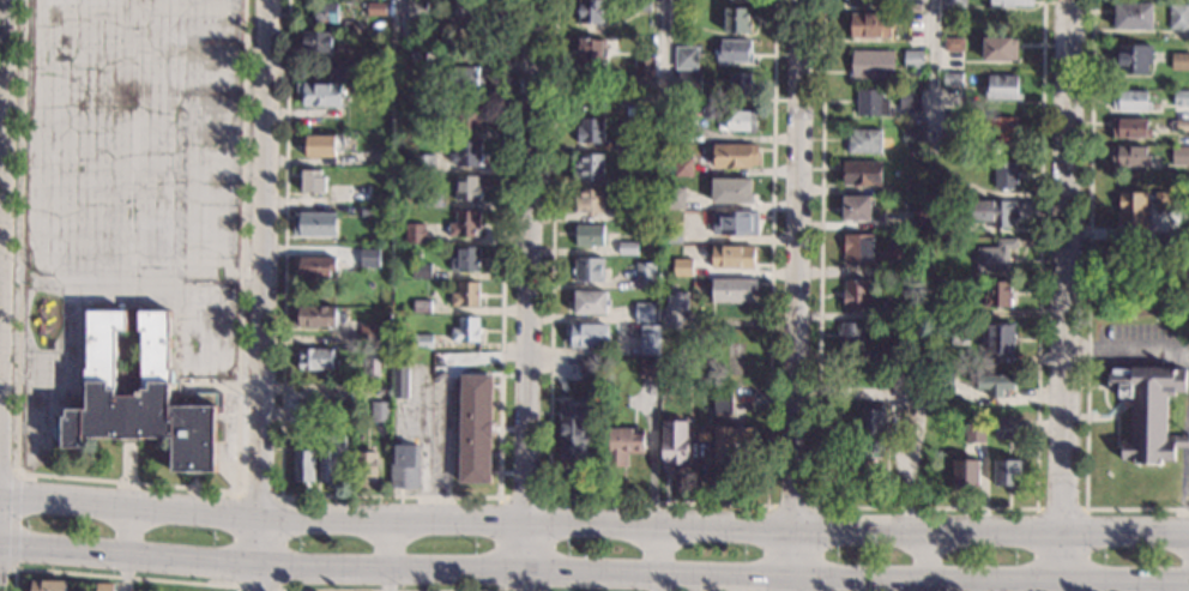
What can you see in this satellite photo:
building: (858, 2)
building: (1013, 2)
building: (954, 4)
building: (642, 5)
building: (375, 7)
building: (417, 10)
building: (591, 11)
building: (326, 12)
building: (471, 12)
road: (400, 13)
building: (686, 13)
building: (1133, 16)
building: (1179, 17)
building: (737, 19)
building: (871, 25)
building: (315, 40)
building: (953, 43)
road: (665, 46)
road: (934, 46)
building: (1000, 48)
building: (592, 50)
building: (735, 50)
building: (416, 54)
building: (686, 58)
building: (1133, 58)
building: (913, 59)
building: (1179, 61)
building: (873, 65)
building: (645, 66)
road: (1, 67)
building: (340, 70)
building: (466, 77)
building: (952, 78)
building: (689, 82)
building: (740, 84)
building: (1002, 88)
building: (320, 94)
building: (591, 95)
building: (1181, 97)
building: (910, 98)
building: (628, 99)
building: (1130, 99)
building: (871, 103)
building: (467, 117)
building: (742, 120)
building: (952, 120)
building: (1179, 125)
building: (428, 128)
building: (1130, 128)
building: (590, 129)
building: (1001, 129)
building: (675, 131)
building: (912, 134)
building: (864, 141)
building: (321, 144)
building: (626, 144)
building: (467, 153)
building: (735, 155)
building: (1130, 155)
building: (1179, 155)
building: (380, 156)
building: (424, 163)
building: (590, 165)
building: (683, 165)
building: (861, 171)
building: (1006, 174)
building: (626, 179)
building: (312, 180)
building: (400, 182)
building: (917, 186)
building: (467, 187)
building: (948, 187)
building: (731, 191)
building: (356, 193)
building: (674, 198)
building: (429, 199)
building: (590, 200)
building: (1163, 201)
building: (856, 207)
building: (367, 209)
building: (1133, 210)
building: (991, 212)
building: (638, 213)
building: (921, 219)
building: (736, 222)
building: (314, 223)
building: (465, 223)
building: (415, 233)
building: (674, 234)
building: (590, 235)
road: (10, 243)
building: (628, 247)
building: (648, 248)
building: (867, 251)
building: (732, 255)
building: (996, 255)
building: (369, 257)
building: (415, 258)
building: (466, 259)
building: (315, 265)
building: (683, 266)
building: (589, 269)
building: (421, 270)
building: (645, 275)
road: (10, 282)
building: (734, 289)
building: (998, 293)
building: (466, 294)
building: (856, 294)
road: (264, 295)
road: (526, 295)
road: (796, 295)
road: (1064, 295)
building: (591, 302)
building: (422, 306)
road: (1090, 306)
building: (675, 309)
building: (941, 310)
building: (647, 312)
building: (900, 312)
building: (314, 315)
building: (466, 328)
building: (369, 333)
building: (587, 334)
building: (851, 334)
building: (998, 337)
building: (650, 339)
building: (423, 340)
road: (1127, 350)
building: (891, 352)
building: (315, 358)
building: (372, 362)
building: (590, 366)
building: (648, 368)
building: (899, 374)
building: (400, 380)
building: (943, 384)
building: (997, 385)
building: (141, 392)
building: (722, 400)
road: (447, 404)
building: (379, 410)
building: (1148, 411)
building: (298, 412)
building: (345, 412)
building: (476, 429)
building: (574, 429)
building: (875, 429)
building: (1006, 429)
building: (974, 434)
building: (729, 441)
building: (624, 444)
building: (675, 444)
building: (330, 457)
building: (303, 465)
building: (406, 465)
building: (366, 468)
road: (8, 470)
building: (1008, 472)
building: (966, 475)
road: (138, 483)
road: (391, 496)
road: (524, 500)
road: (662, 502)
road: (792, 506)
road: (1183, 507)
road: (929, 508)
road: (1062, 509)
road: (16, 520)
road: (593, 523)
road: (129, 549)
road: (386, 555)
road: (654, 557)
road: (927, 560)
road: (7, 571)
road: (593, 572)
road: (116, 578)
building: (48, 585)
building: (104, 587)
road: (277, 589)
road: (303, 590)

